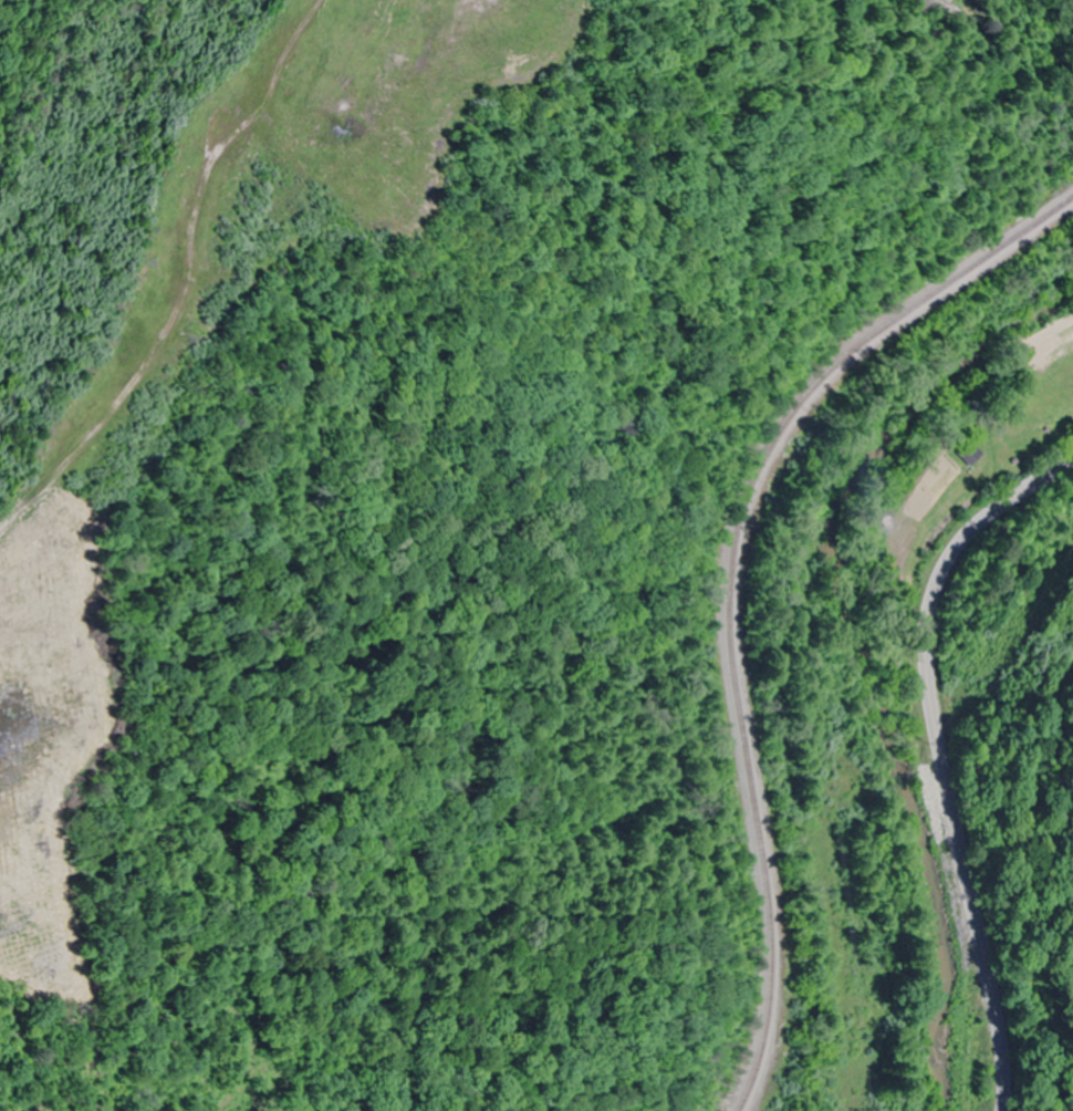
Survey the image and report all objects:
building: (1020, 442)
building: (967, 454)
railway: (727, 580)
road: (940, 754)

